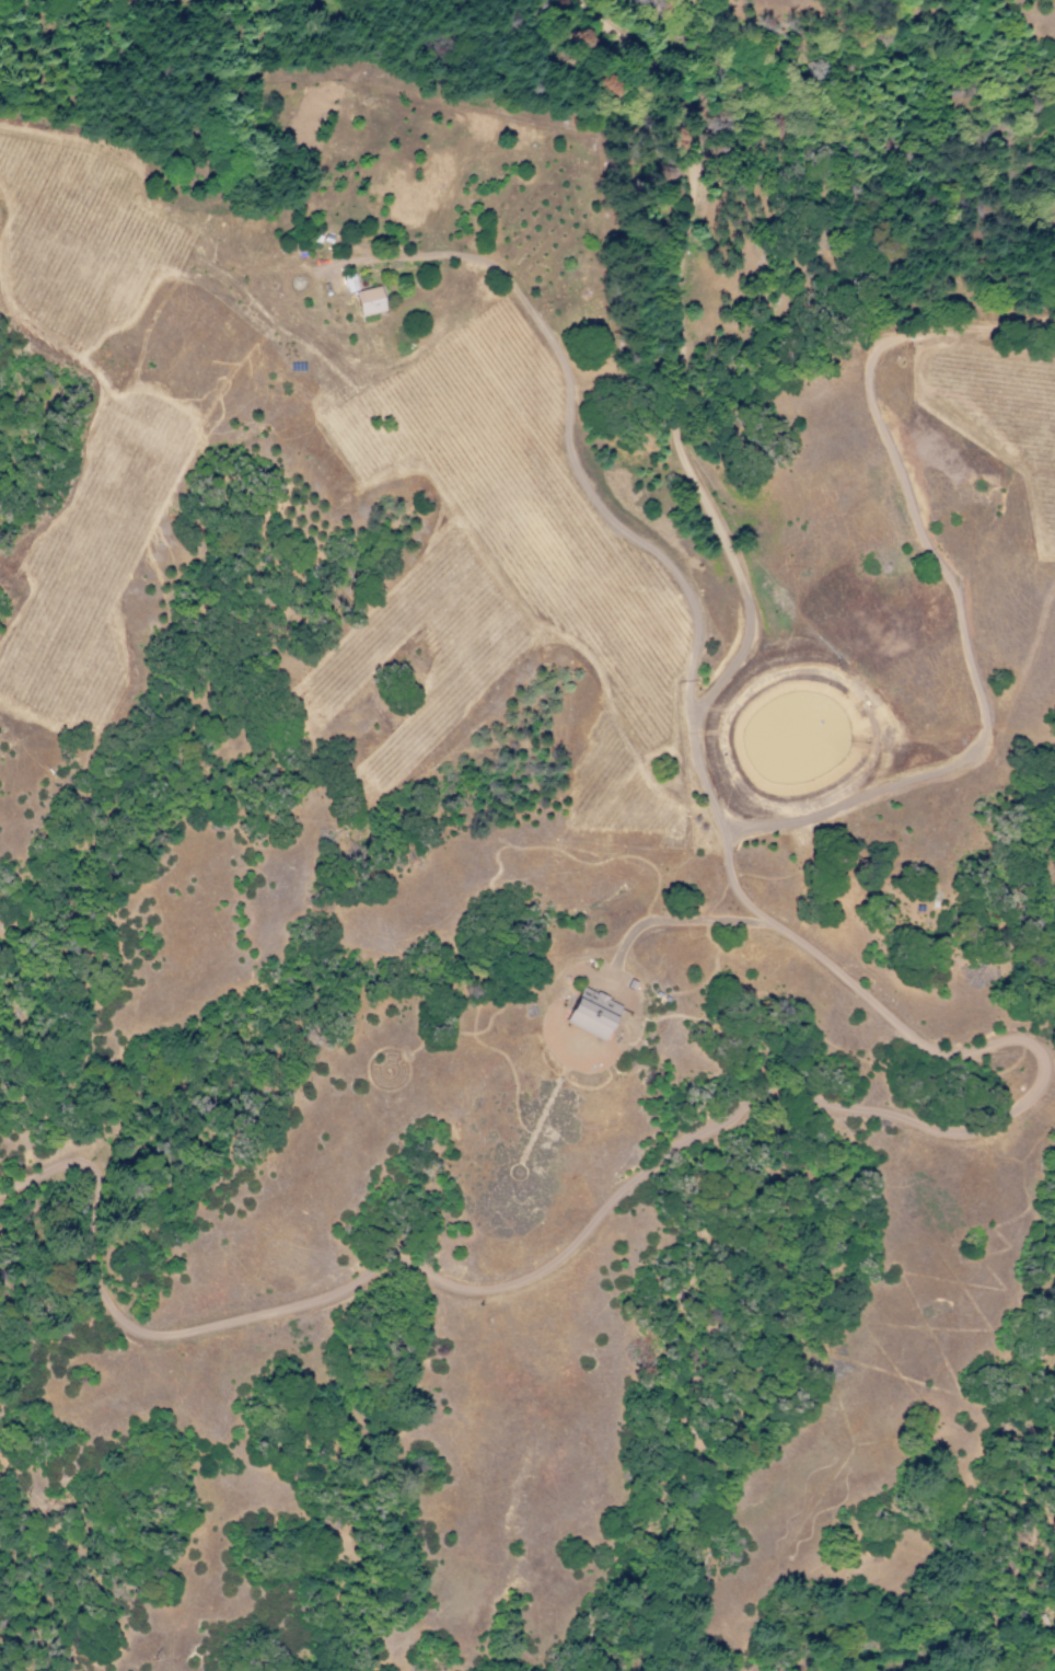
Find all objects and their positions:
building: (368, 301)
road: (988, 668)
building: (591, 1013)
road: (1043, 1049)

